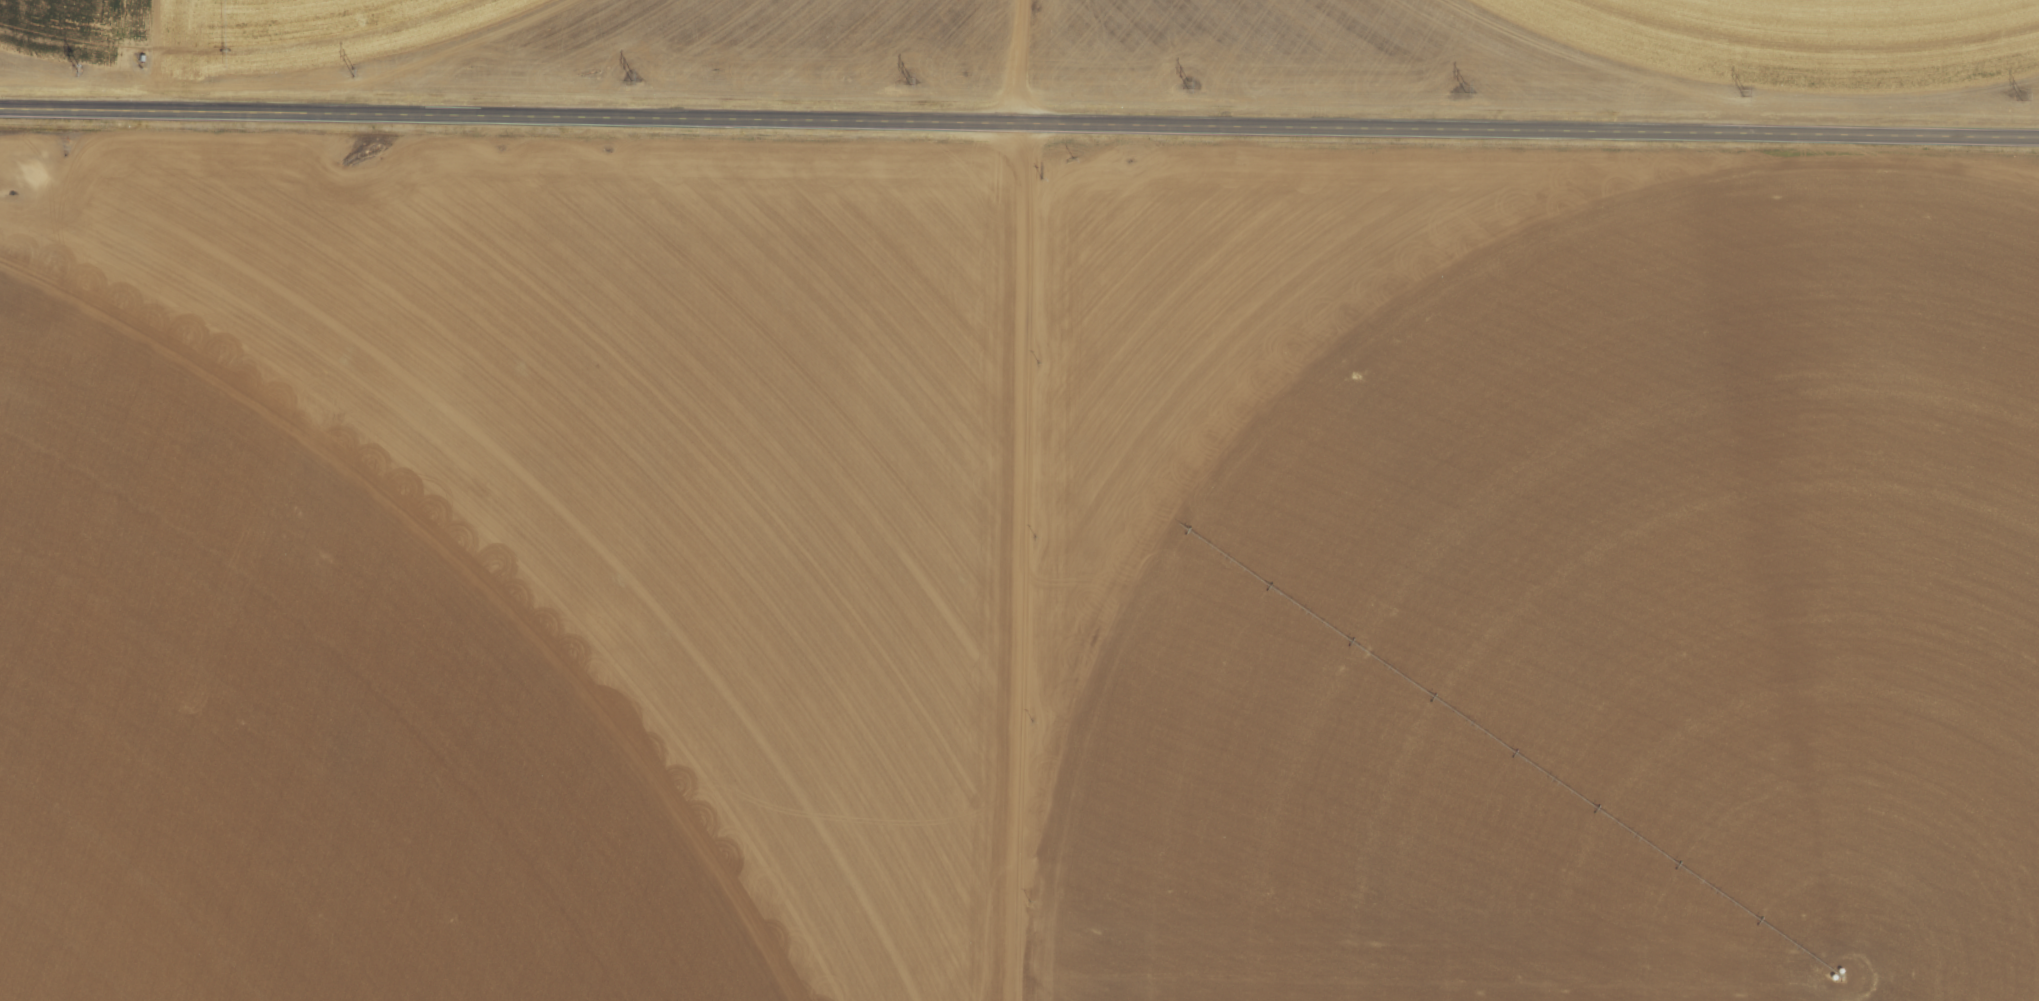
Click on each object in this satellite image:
road: (1019, 131)

